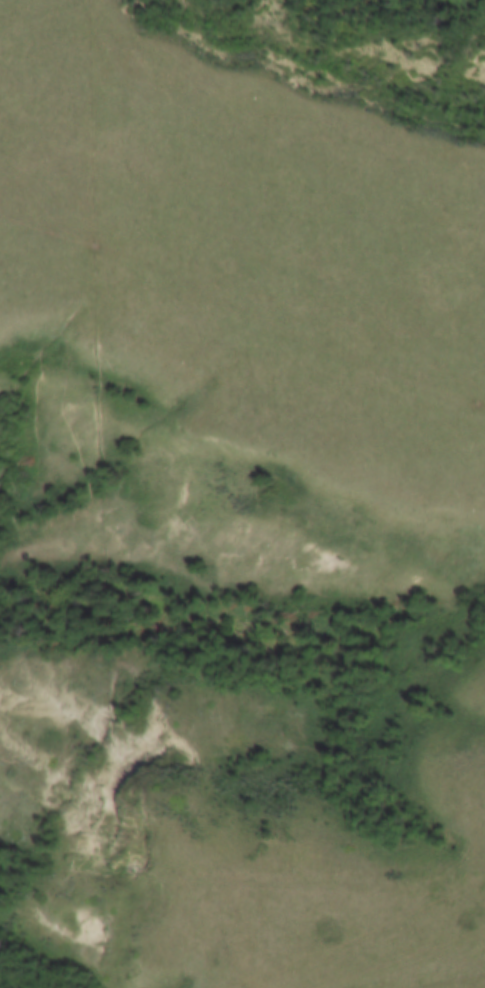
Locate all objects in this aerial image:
road: (422, 979)

